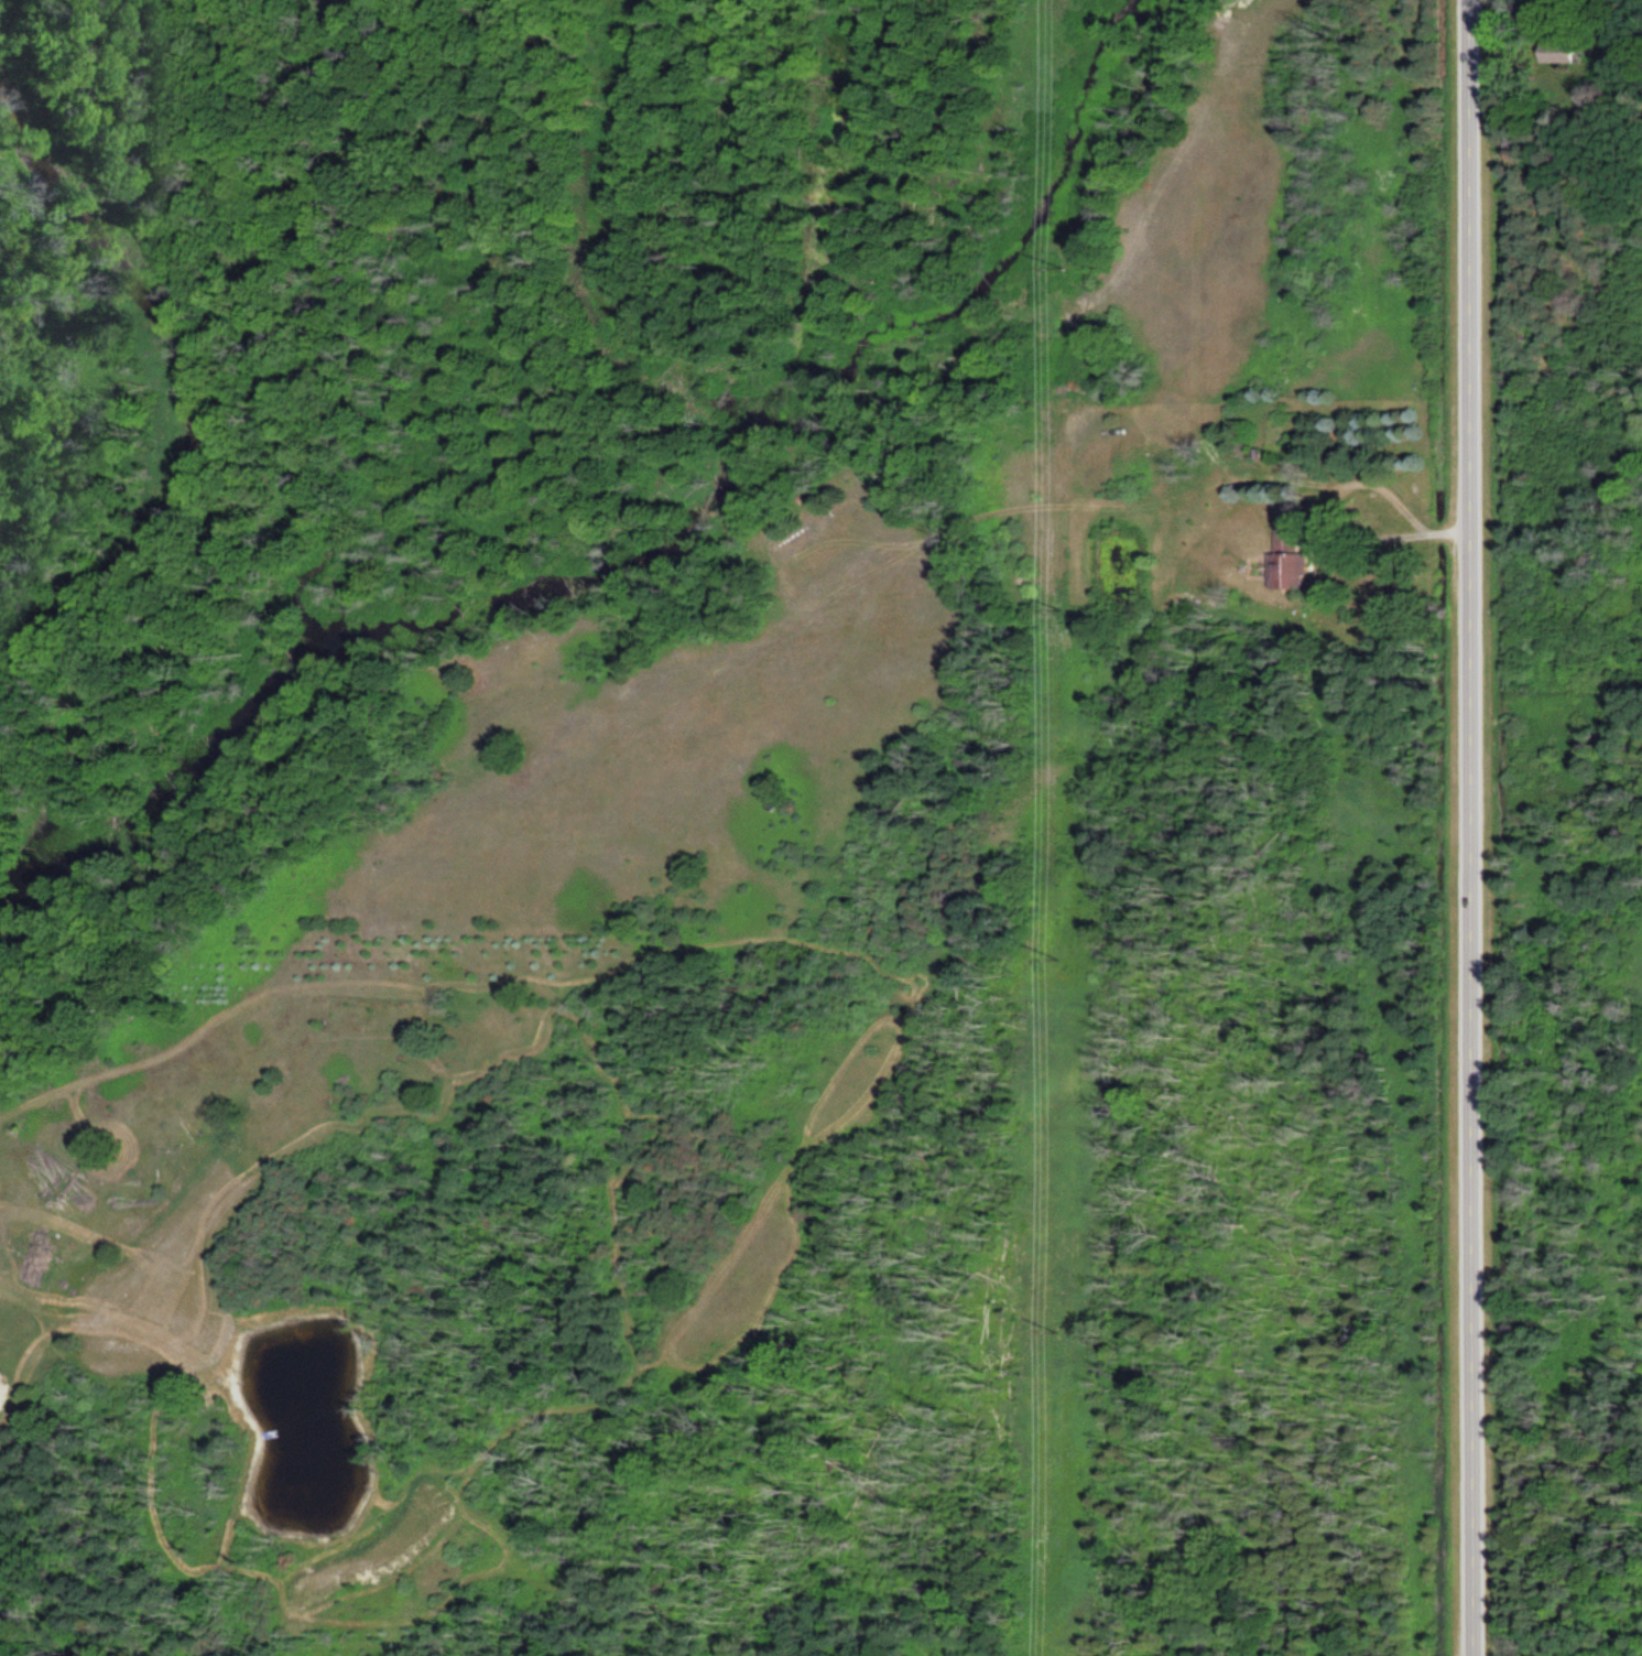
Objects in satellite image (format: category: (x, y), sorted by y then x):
building: (1567, 53)
building: (1293, 537)
building: (1294, 572)
road: (1466, 827)

